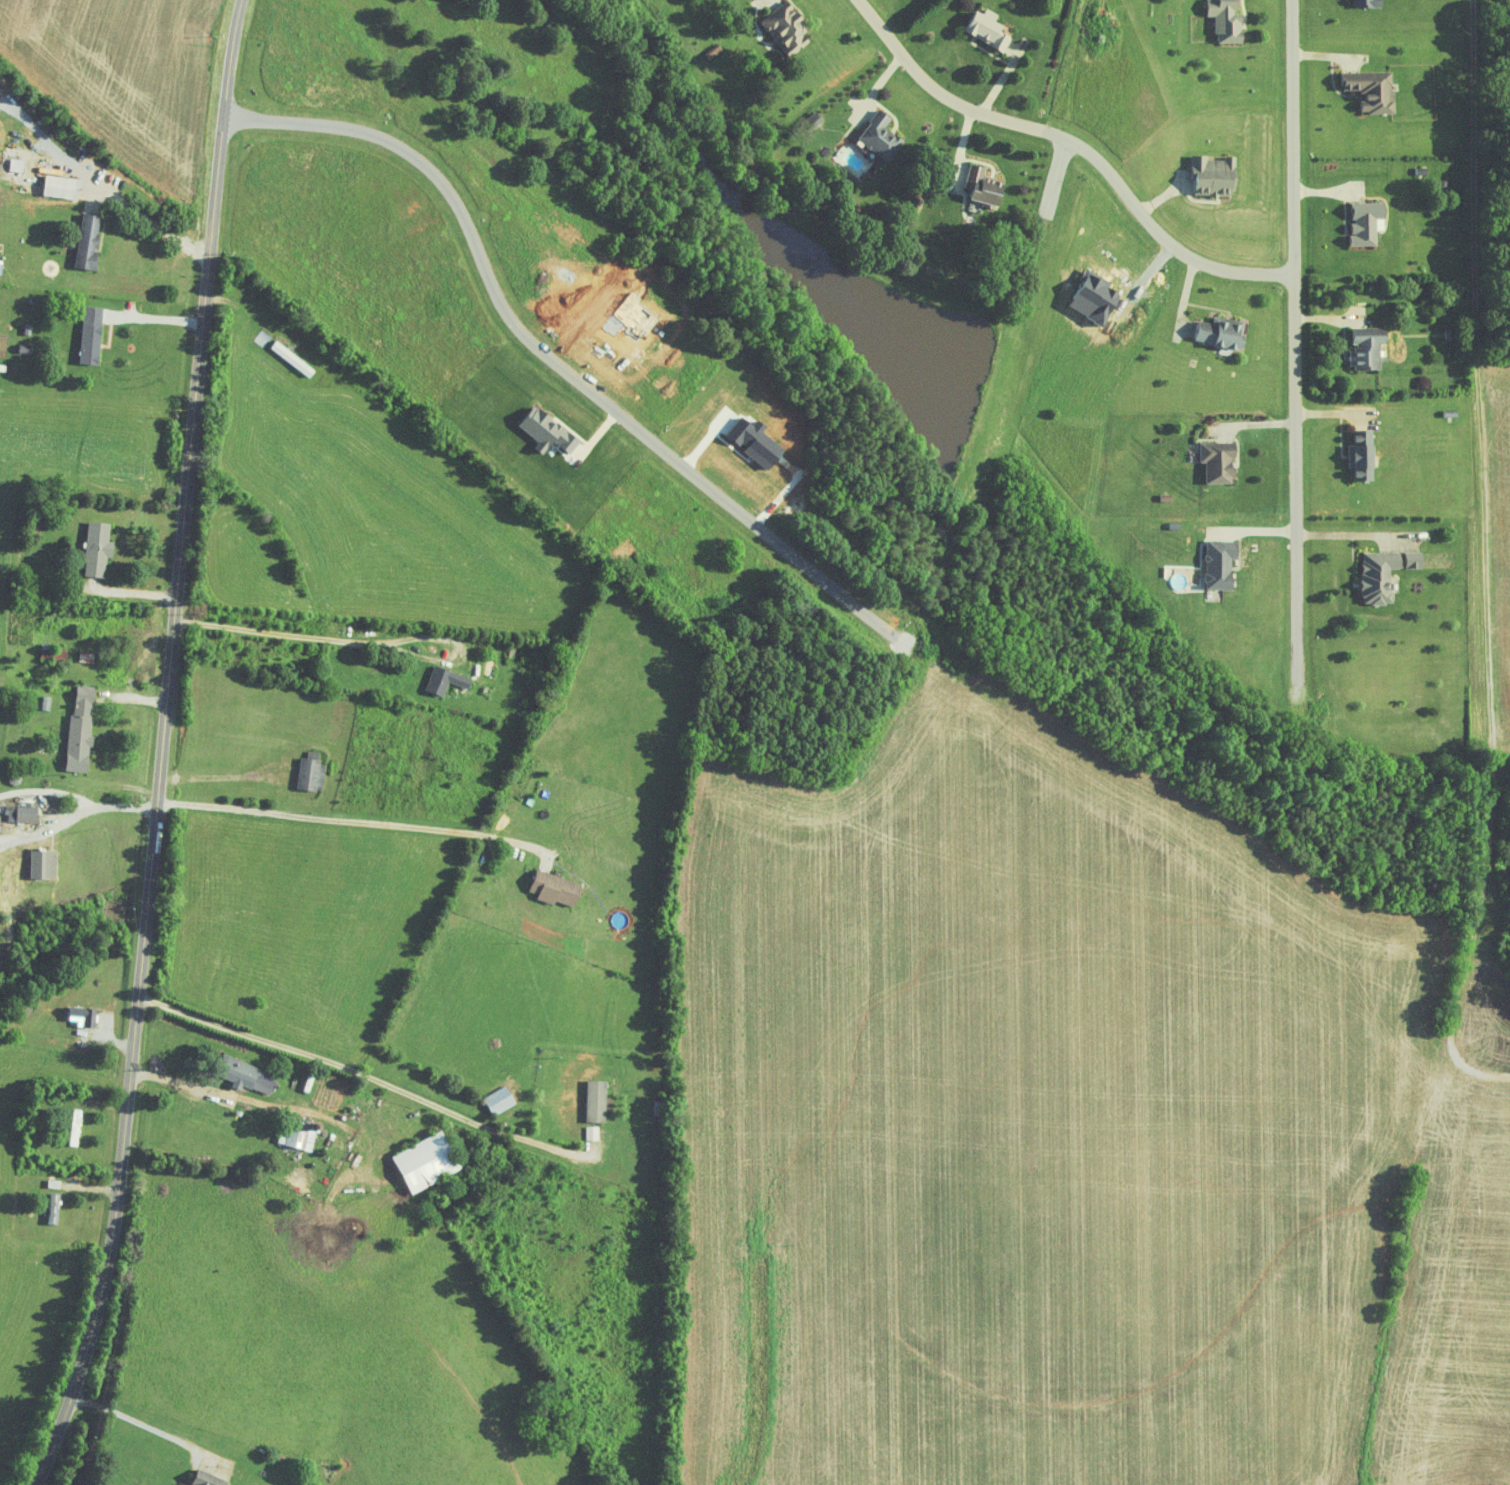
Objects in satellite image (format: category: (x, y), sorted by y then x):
building: (1367, 3)
building: (1229, 20)
building: (790, 27)
building: (990, 30)
building: (713, 50)
building: (1374, 90)
building: (883, 135)
road: (1076, 142)
building: (18, 164)
road: (1472, 164)
building: (1216, 176)
building: (60, 186)
building: (987, 186)
road: (154, 224)
building: (1368, 226)
building: (89, 241)
road: (156, 319)
building: (1224, 333)
building: (92, 335)
building: (266, 335)
road: (1294, 348)
building: (1370, 348)
building: (291, 357)
road: (556, 362)
building: (549, 431)
building: (1365, 455)
building: (1221, 462)
building: (99, 547)
building: (1223, 562)
building: (1387, 572)
road: (128, 591)
road: (375, 641)
building: (446, 679)
building: (82, 729)
road: (163, 746)
building: (312, 773)
road: (105, 804)
building: (23, 813)
road: (349, 820)
building: (45, 863)
building: (557, 887)
building: (85, 1015)
road: (356, 1071)
building: (247, 1073)
building: (501, 1099)
building: (599, 1100)
building: (302, 1134)
building: (429, 1161)
building: (55, 1207)
road: (136, 1420)
building: (208, 1480)
building: (186, 1484)

